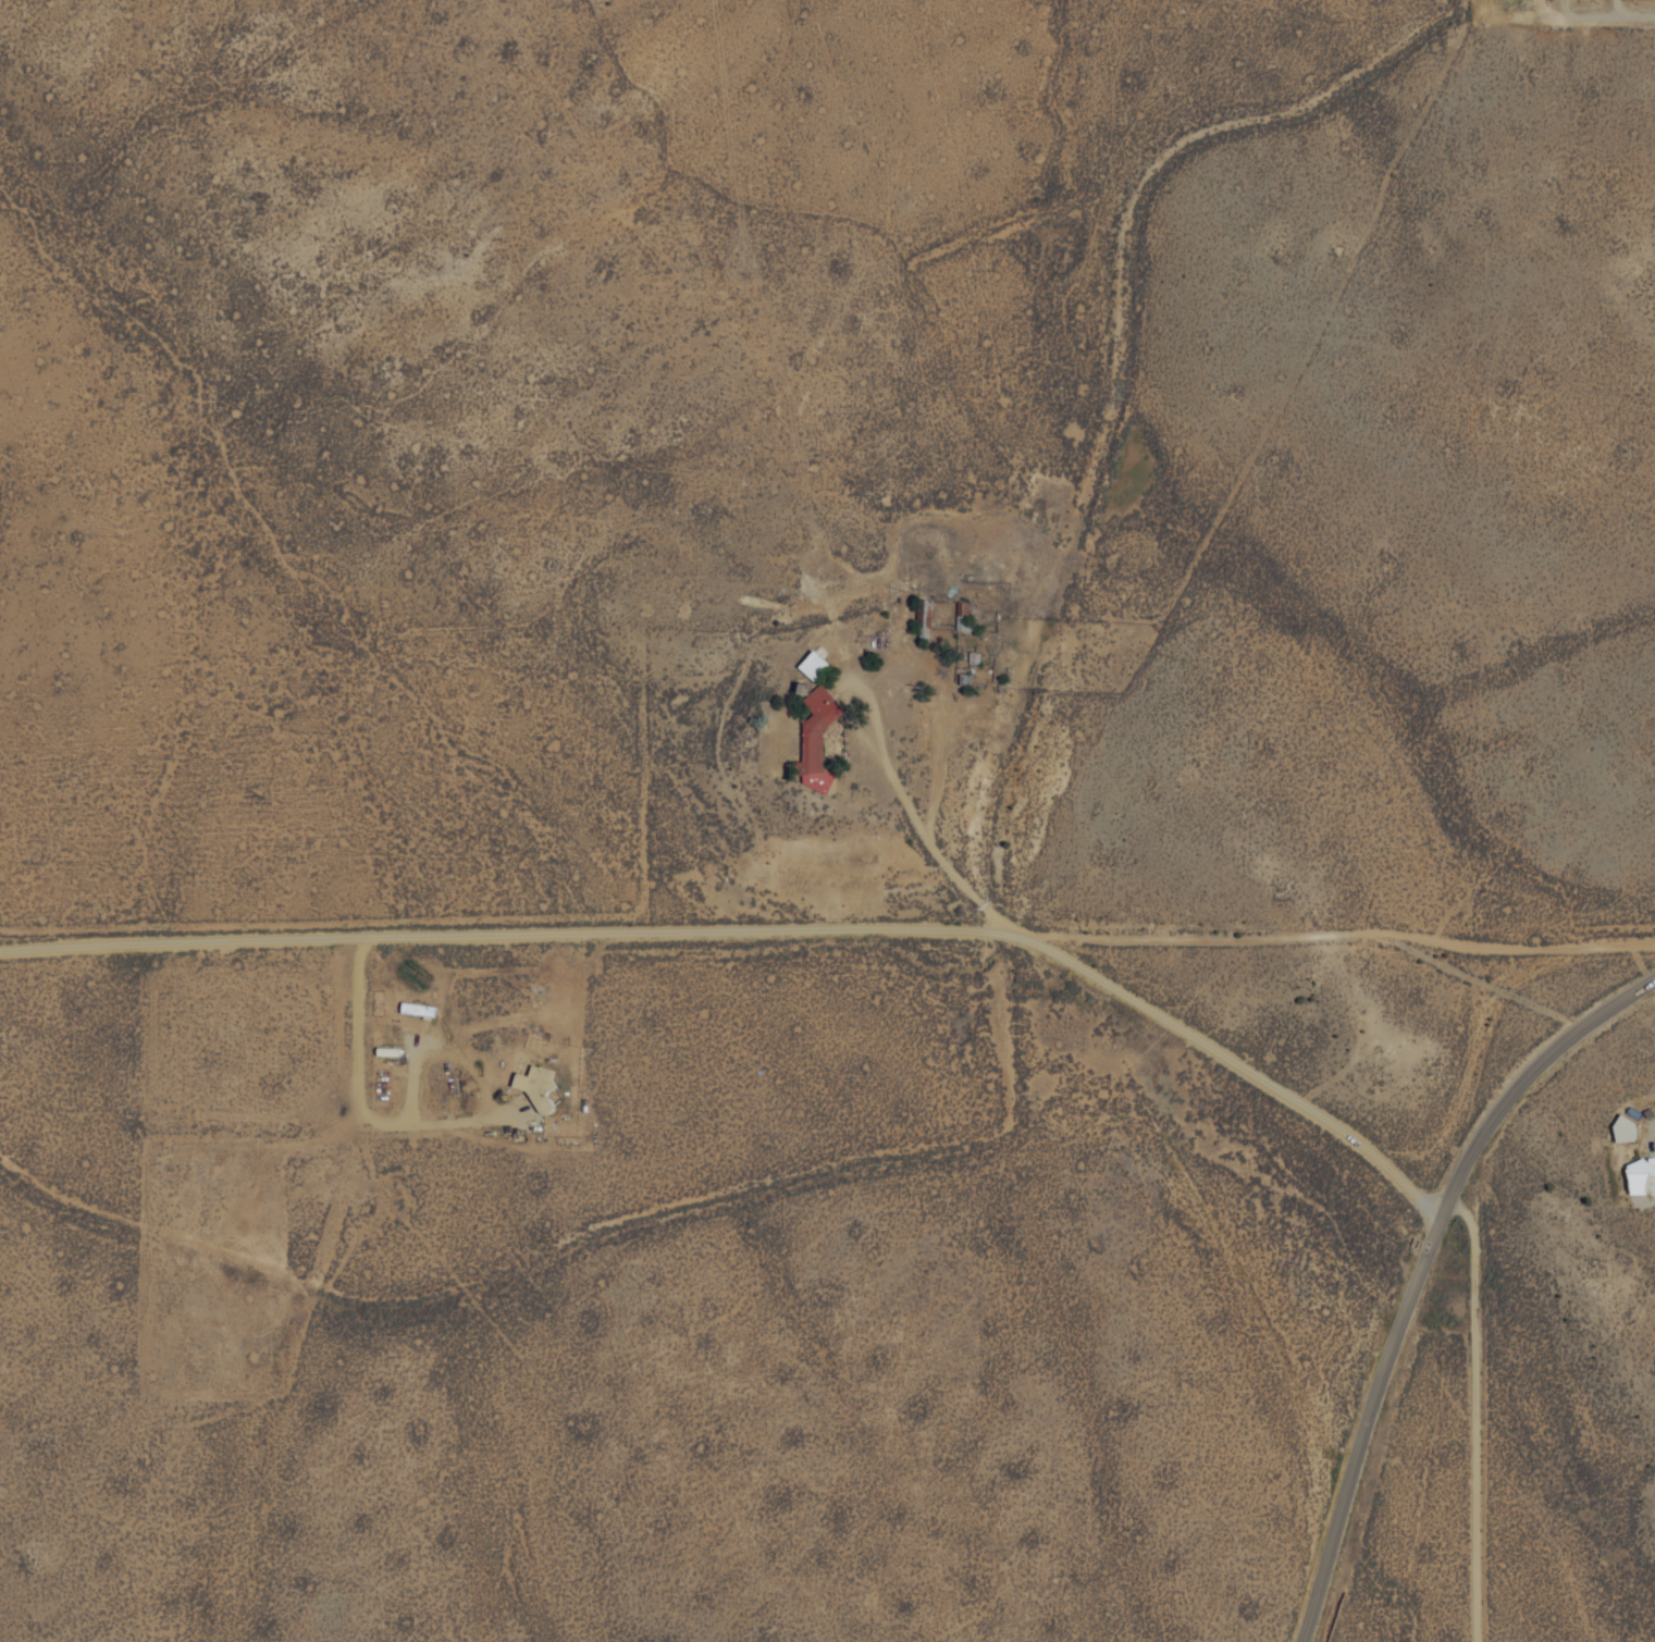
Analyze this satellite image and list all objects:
road: (1589, 16)
building: (810, 663)
building: (810, 737)
road: (763, 928)
building: (533, 1077)
building: (1638, 1174)
road: (1417, 1271)

